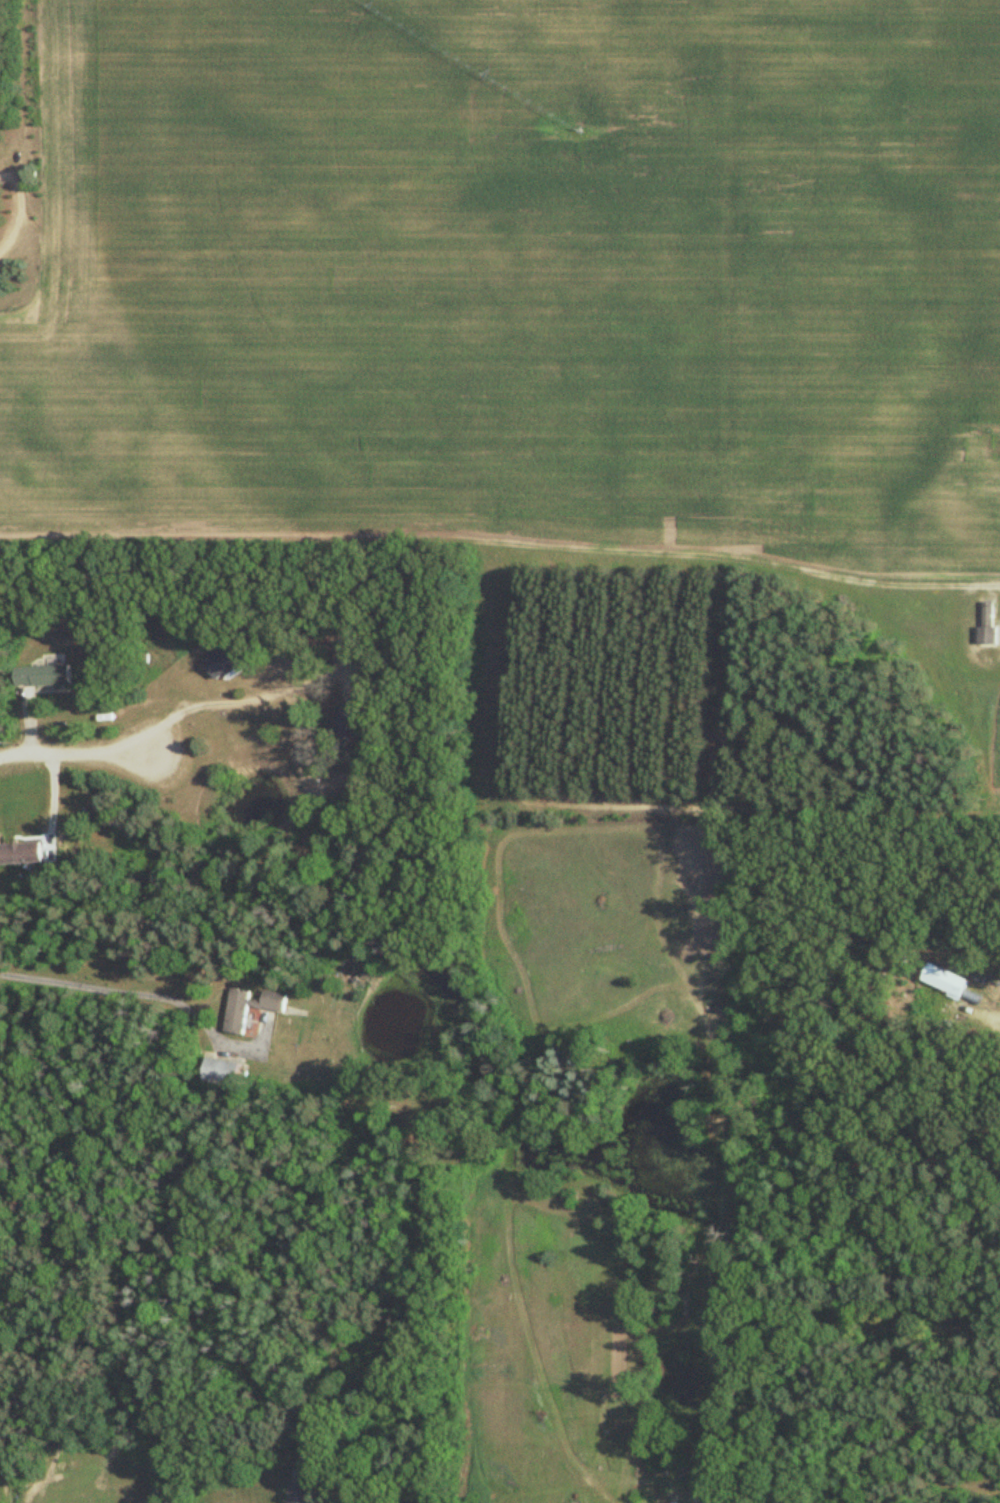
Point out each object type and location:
road: (19, 212)
building: (990, 545)
building: (986, 625)
building: (219, 663)
building: (41, 678)
road: (168, 721)
building: (348, 723)
building: (945, 981)
road: (135, 996)
road: (994, 1008)
building: (236, 1009)
building: (220, 1072)
building: (302, 1483)

